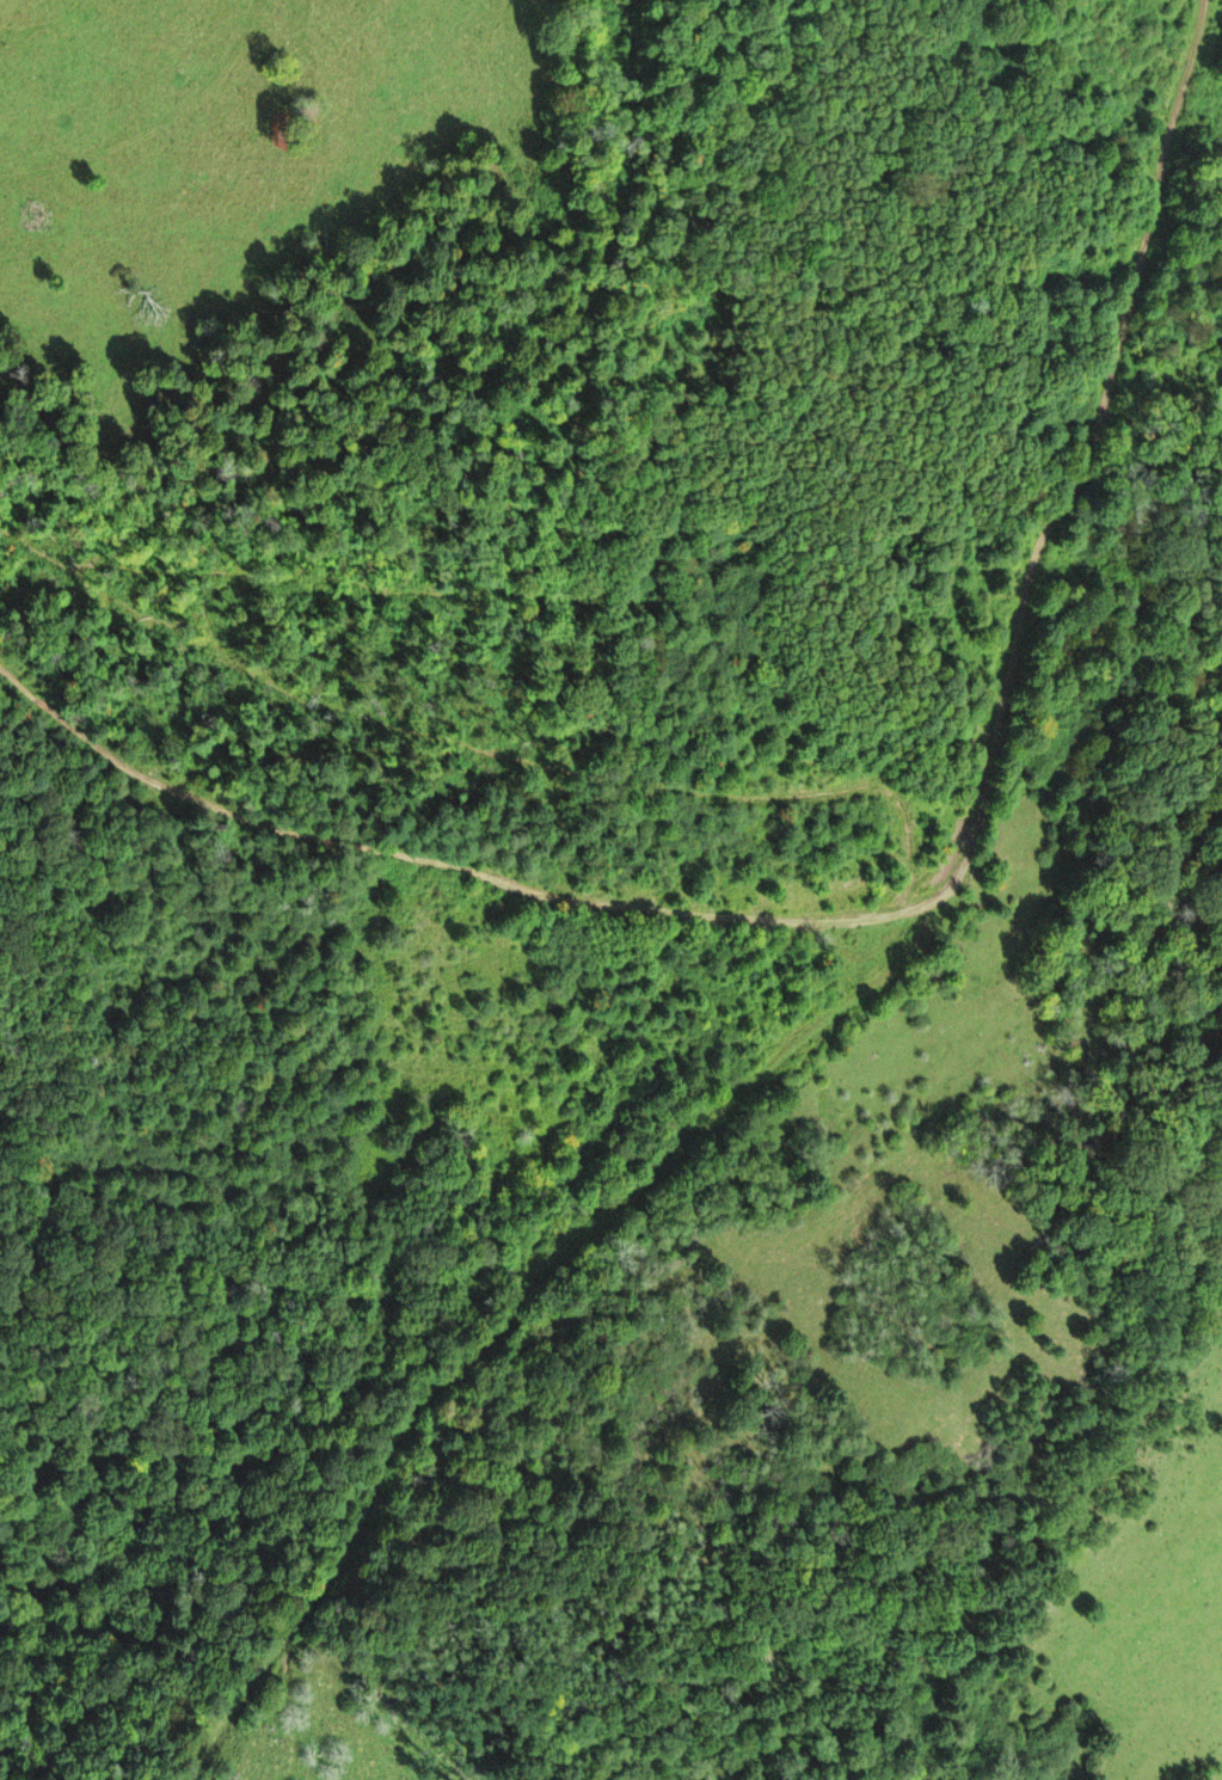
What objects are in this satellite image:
road: (914, 903)

